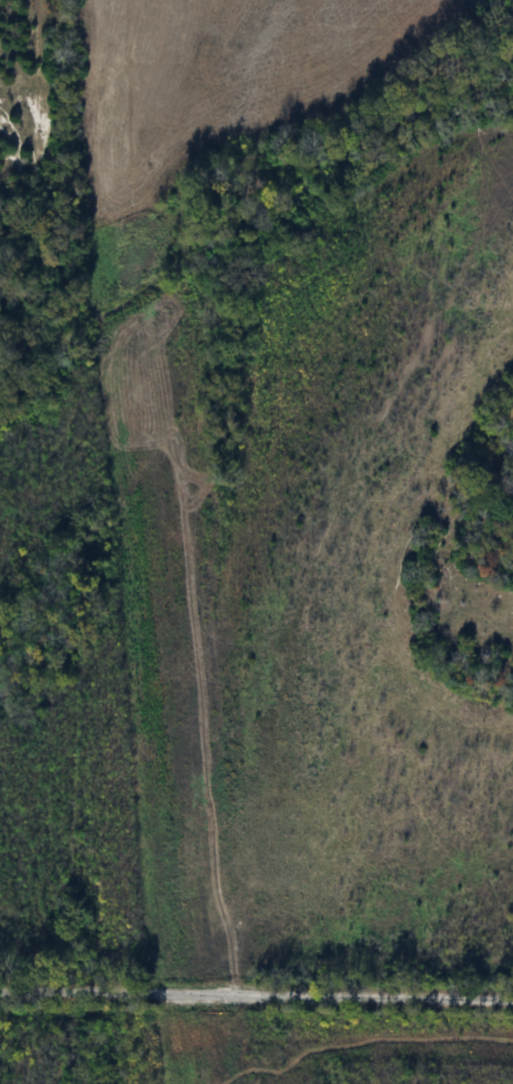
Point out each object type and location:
road: (256, 994)

